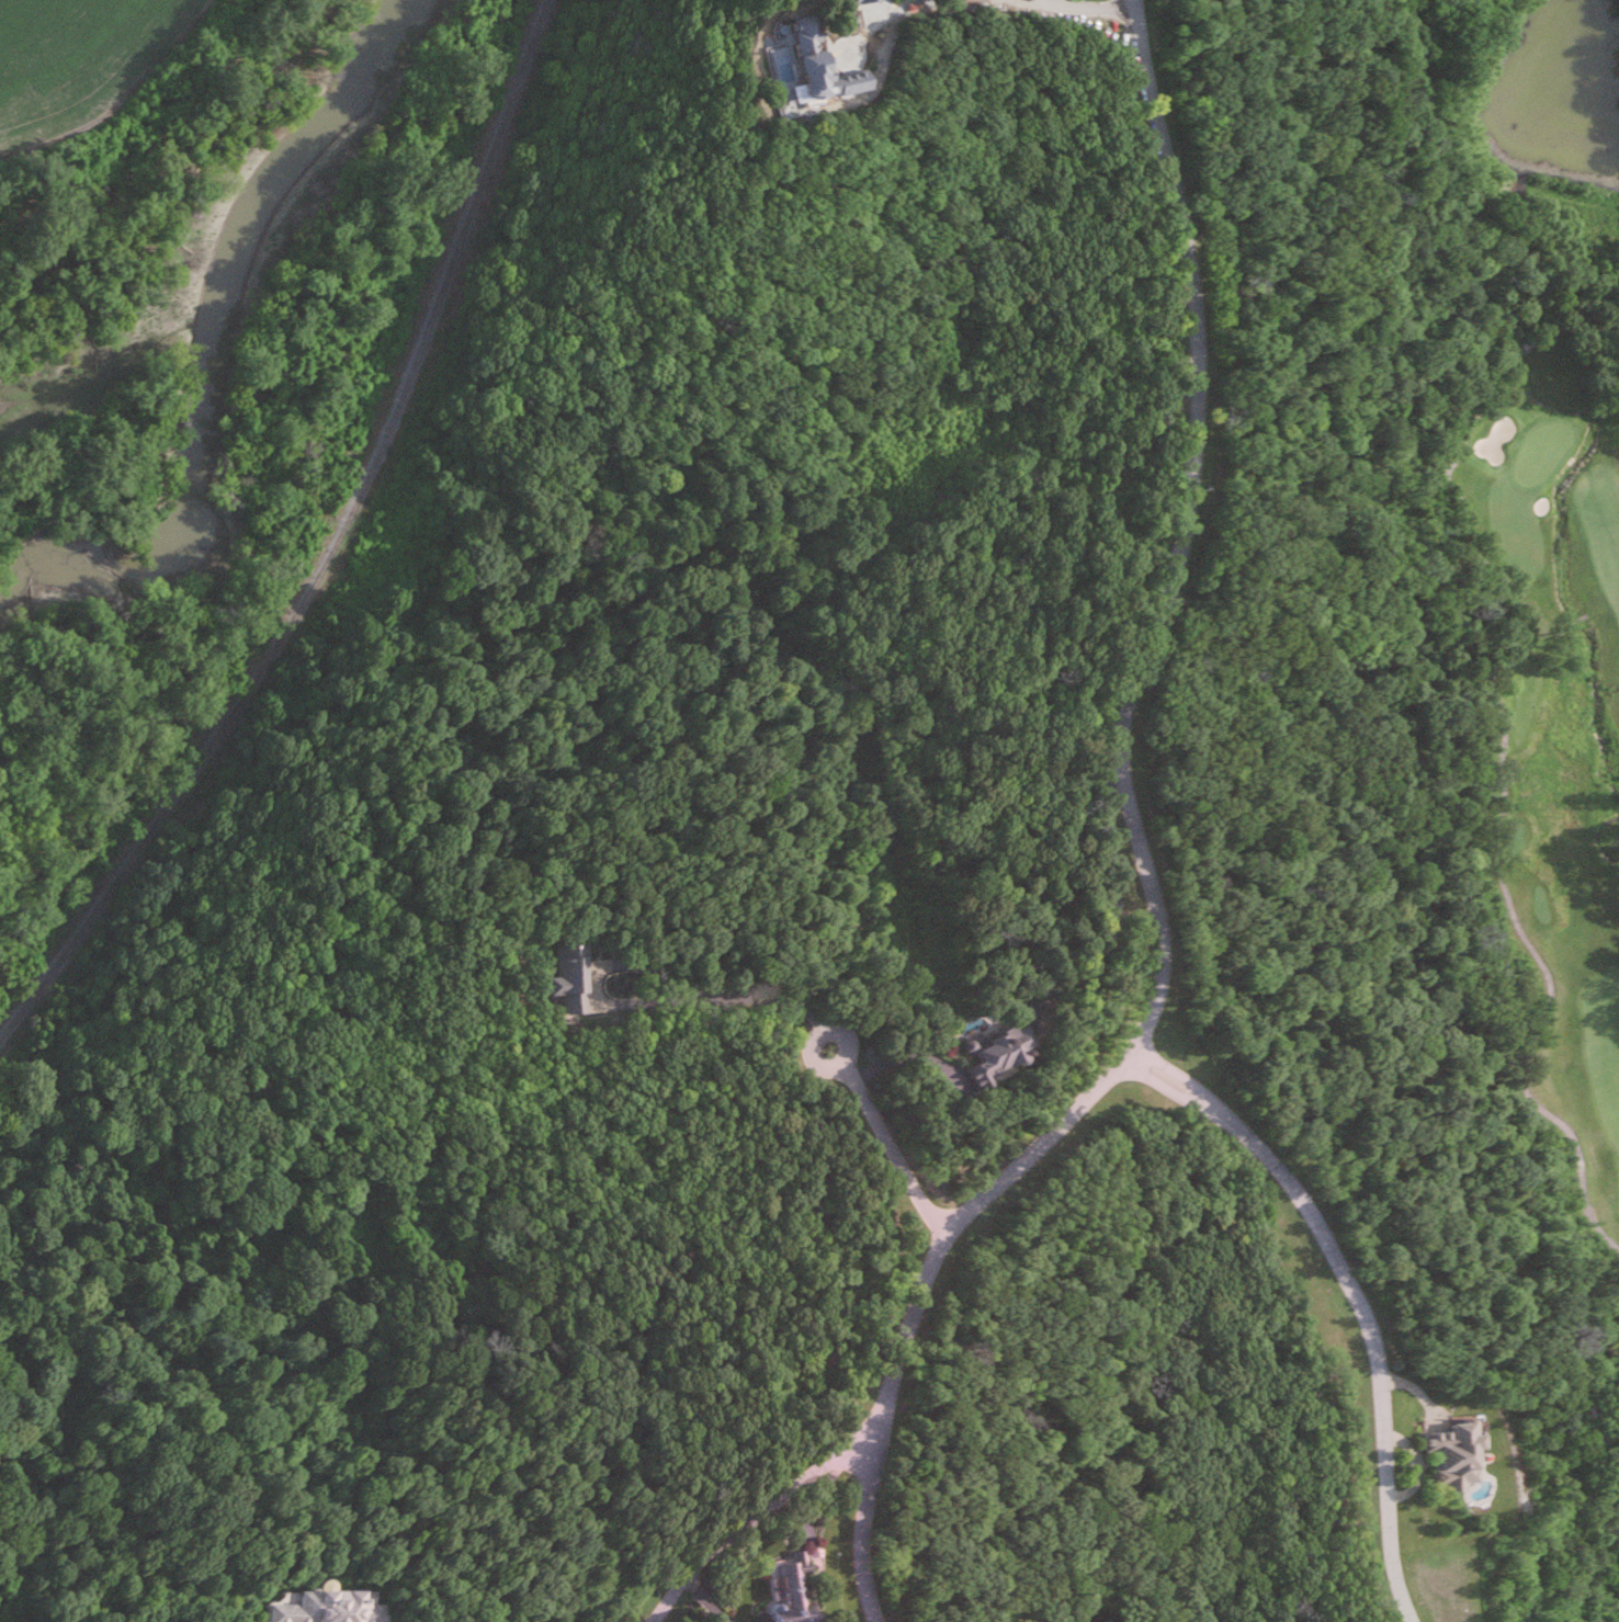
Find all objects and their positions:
building: (868, 0)
road: (1075, 5)
road: (895, 11)
crop: (70, 49)
building: (816, 66)
railway: (329, 549)
road: (1517, 621)
park: (1552, 727)
road: (1137, 851)
road: (652, 967)
road: (847, 1041)
building: (1000, 1051)
road: (1553, 1115)
road: (894, 1145)
road: (1355, 1295)
building: (1450, 1455)
road: (751, 1518)
building: (789, 1589)
building: (330, 1607)
road: (514, 1621)

